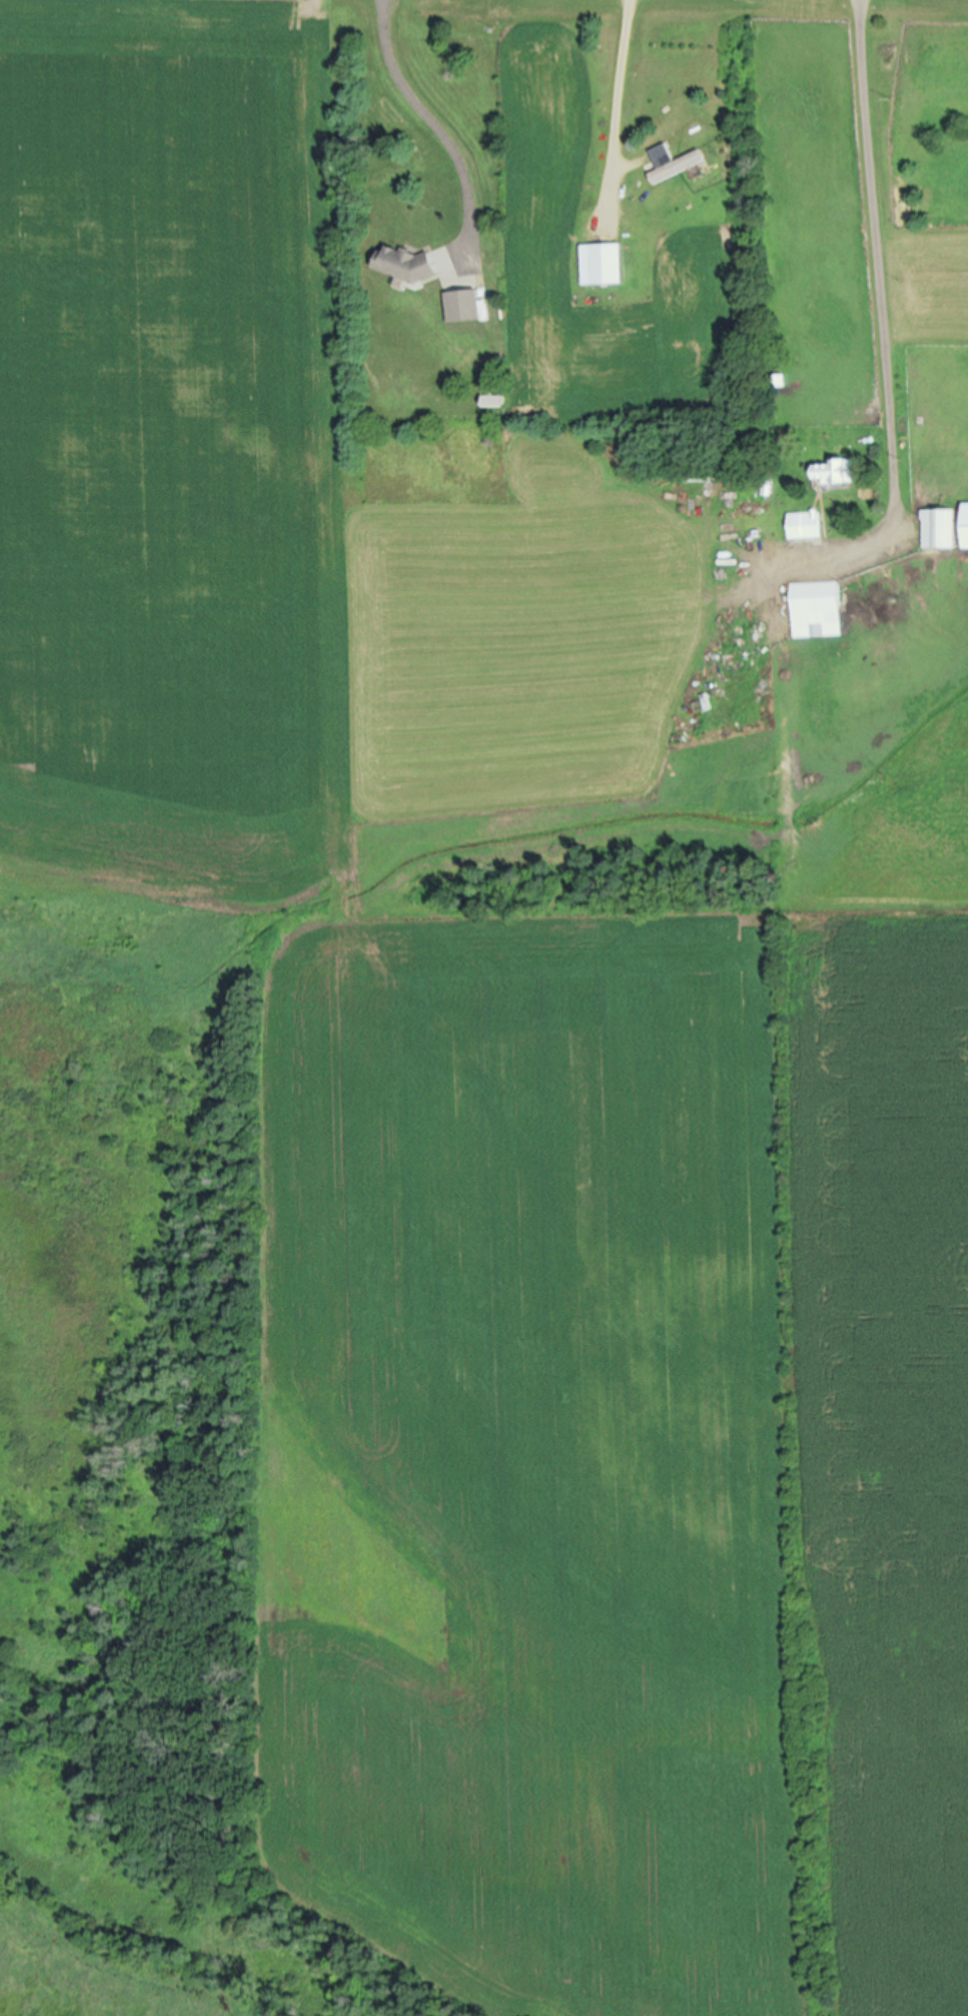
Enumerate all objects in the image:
road: (617, 86)
road: (431, 118)
building: (681, 164)
building: (404, 262)
building: (613, 263)
building: (463, 305)
road: (879, 312)
building: (775, 379)
building: (492, 398)
building: (834, 470)
building: (804, 524)
building: (965, 524)
building: (937, 528)
building: (817, 600)

